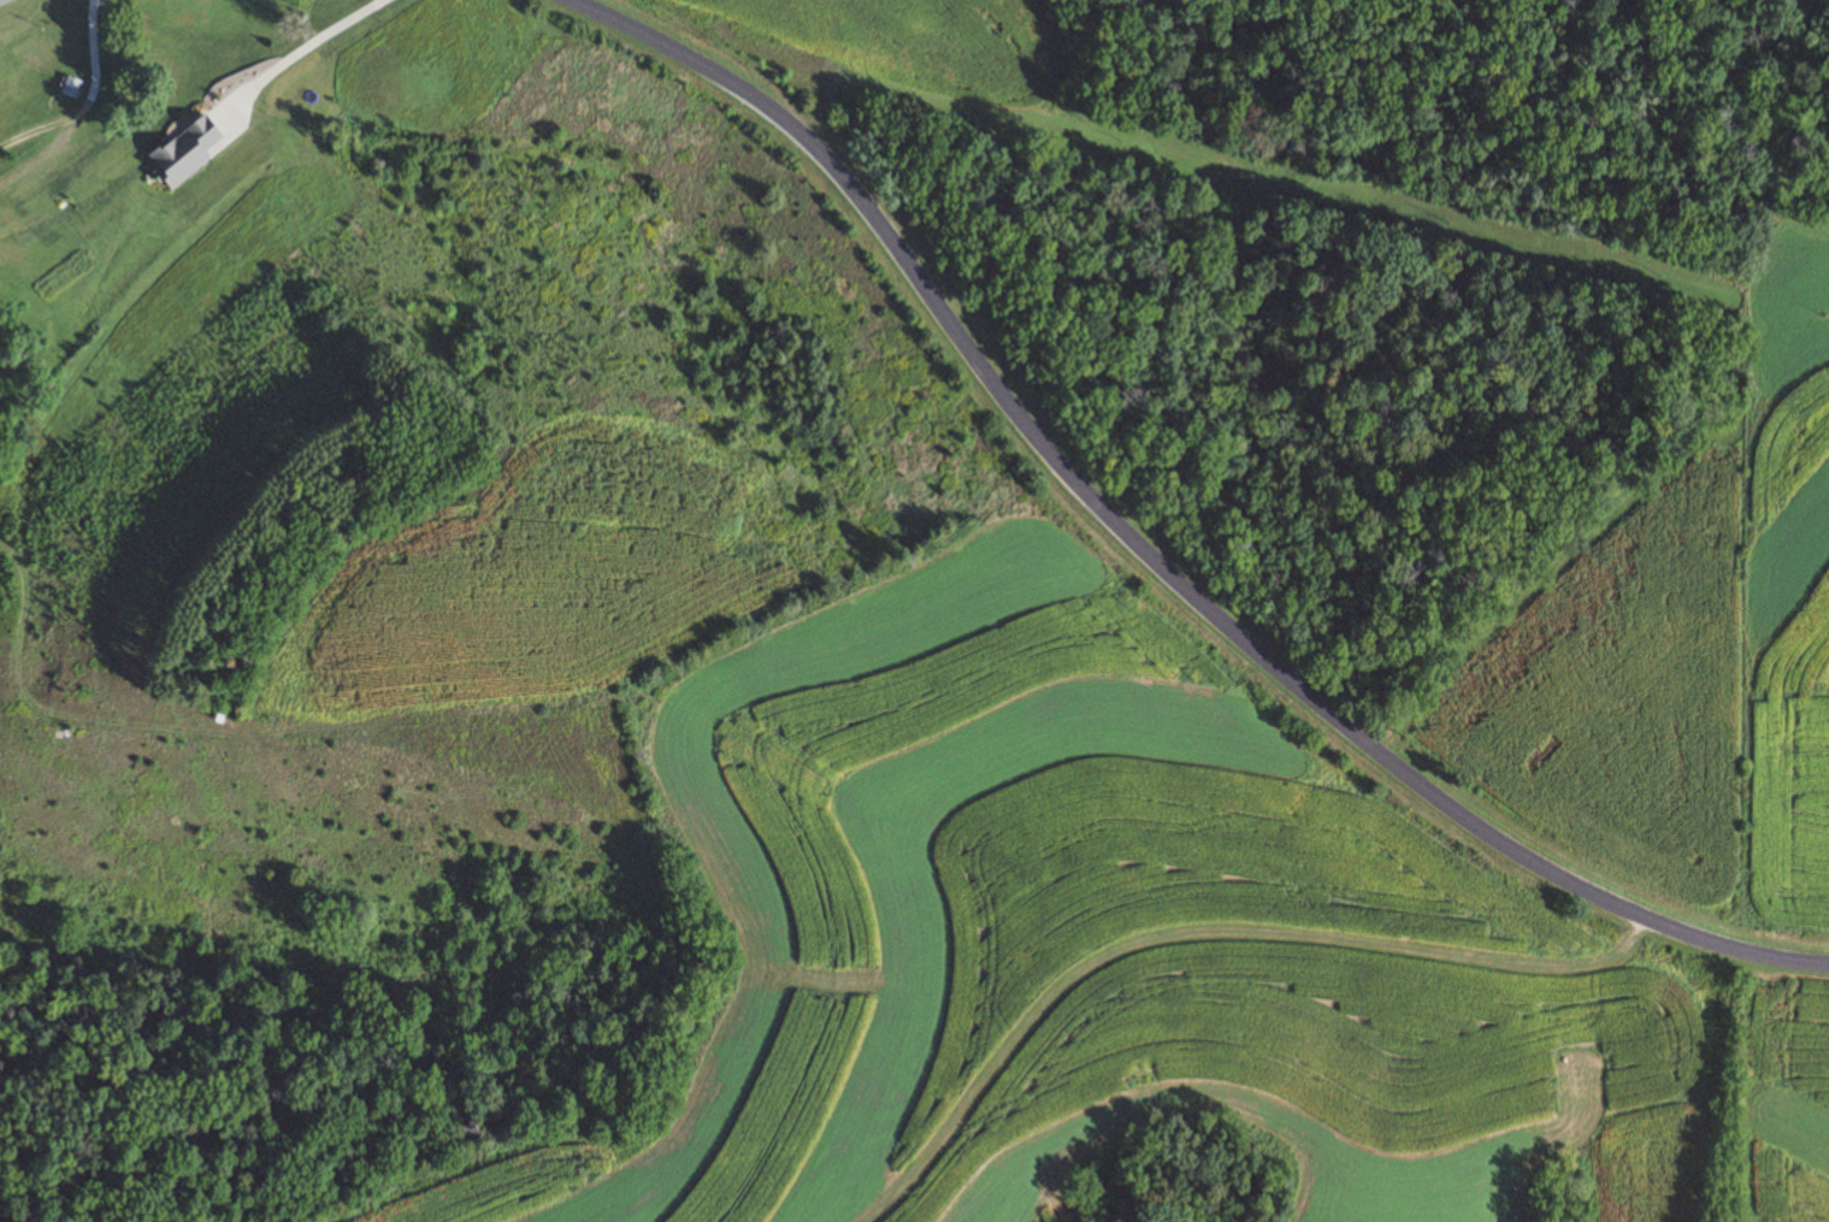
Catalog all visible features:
building: (6, 1)
road: (295, 52)
road: (90, 55)
building: (188, 150)
road: (1137, 561)

